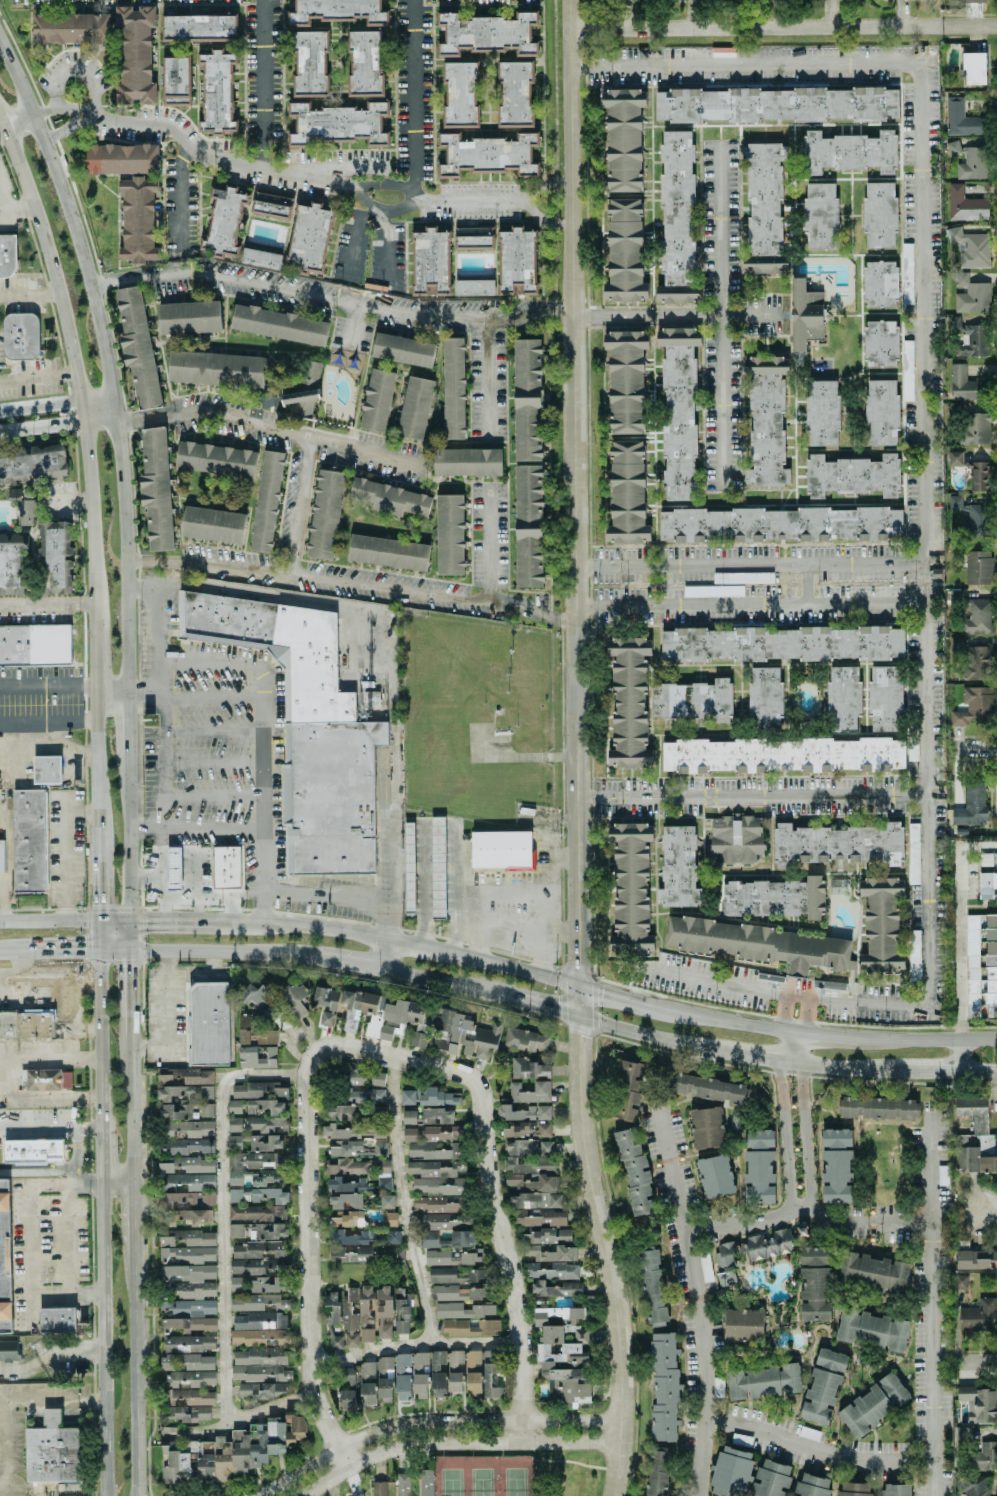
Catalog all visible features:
building: (971, 0)
building: (338, 11)
road: (831, 13)
building: (199, 27)
road: (783, 27)
building: (71, 28)
building: (135, 55)
building: (310, 63)
building: (365, 63)
road: (78, 68)
building: (974, 68)
building: (177, 81)
road: (261, 84)
building: (218, 93)
building: (461, 94)
building: (515, 94)
building: (775, 104)
road: (59, 108)
road: (89, 117)
building: (961, 119)
road: (16, 121)
building: (340, 123)
road: (1, 127)
road: (64, 128)
building: (623, 138)
building: (848, 151)
road: (414, 154)
building: (97, 158)
building: (129, 158)
building: (967, 160)
road: (249, 166)
road: (183, 199)
building: (763, 199)
road: (529, 202)
building: (964, 204)
road: (1, 205)
building: (271, 206)
road: (15, 209)
road: (382, 211)
building: (820, 215)
building: (879, 215)
building: (138, 220)
building: (676, 221)
building: (225, 224)
building: (308, 238)
road: (355, 238)
building: (474, 238)
building: (970, 247)
road: (387, 248)
building: (624, 252)
building: (7, 255)
building: (261, 258)
building: (518, 262)
building: (432, 263)
building: (764, 264)
building: (907, 273)
road: (143, 276)
building: (880, 283)
building: (474, 287)
road: (277, 288)
road: (29, 295)
building: (970, 295)
road: (928, 308)
road: (725, 313)
building: (804, 313)
road: (681, 314)
road: (417, 316)
road: (528, 316)
building: (189, 317)
building: (279, 325)
road: (350, 326)
building: (20, 336)
building: (966, 337)
building: (880, 343)
building: (137, 345)
building: (403, 350)
road: (104, 358)
road: (71, 366)
building: (216, 369)
building: (906, 370)
road: (36, 377)
building: (626, 381)
road: (484, 382)
building: (966, 385)
building: (453, 388)
building: (377, 400)
building: (527, 400)
building: (301, 402)
road: (39, 403)
building: (415, 407)
building: (678, 408)
building: (881, 412)
building: (822, 413)
road: (99, 422)
building: (766, 422)
road: (42, 428)
building: (973, 428)
road: (270, 429)
building: (954, 458)
building: (216, 459)
building: (467, 462)
building: (32, 463)
building: (853, 475)
building: (978, 475)
road: (450, 483)
building: (156, 488)
building: (14, 494)
building: (627, 494)
building: (391, 498)
building: (267, 501)
road: (71, 502)
building: (954, 502)
road: (295, 507)
building: (27, 512)
building: (325, 514)
building: (976, 519)
building: (780, 524)
building: (213, 525)
building: (528, 525)
building: (450, 534)
road: (485, 543)
building: (388, 552)
building: (56, 556)
building: (11, 563)
building: (977, 567)
road: (843, 580)
road: (672, 584)
road: (352, 585)
road: (282, 599)
road: (46, 607)
building: (977, 616)
road: (929, 631)
building: (783, 643)
building: (35, 645)
road: (93, 653)
building: (977, 663)
road: (47, 686)
road: (109, 686)
road: (143, 686)
road: (265, 686)
road: (214, 698)
building: (885, 698)
building: (765, 699)
building: (843, 699)
building: (693, 700)
building: (629, 702)
building: (971, 707)
road: (47, 720)
road: (125, 723)
road: (214, 730)
building: (307, 730)
road: (56, 732)
road: (26, 742)
road: (974, 749)
road: (579, 750)
building: (781, 755)
road: (164, 764)
road: (72, 767)
road: (95, 767)
building: (47, 770)
road: (47, 774)
road: (754, 794)
building: (971, 806)
building: (995, 825)
road: (215, 827)
road: (387, 837)
building: (735, 838)
building: (30, 840)
road: (127, 840)
building: (837, 844)
building: (501, 849)
road: (64, 851)
road: (161, 852)
building: (913, 853)
building: (2, 856)
building: (226, 867)
building: (437, 867)
building: (172, 868)
building: (678, 868)
building: (987, 874)
road: (959, 875)
road: (547, 876)
road: (162, 880)
road: (424, 883)
road: (502, 883)
building: (630, 889)
road: (214, 896)
road: (345, 897)
building: (775, 898)
road: (95, 899)
road: (2, 902)
traffic signals: (96, 903)
road: (458, 903)
road: (230, 907)
traffic signals: (146, 920)
road: (161, 920)
road: (47, 921)
building: (881, 924)
road: (542, 933)
road: (405, 943)
building: (759, 944)
road: (78, 949)
traffic signals: (82, 949)
road: (14, 951)
road: (221, 951)
road: (385, 953)
building: (914, 955)
road: (347, 962)
traffic signals: (580, 962)
building: (991, 965)
building: (972, 966)
traffic signals: (129, 967)
road: (961, 973)
road: (129, 977)
road: (441, 982)
road: (719, 982)
road: (49, 990)
traffic signals: (602, 993)
building: (256, 997)
building: (326, 997)
road: (618, 997)
building: (297, 1001)
road: (867, 1002)
road: (539, 1008)
building: (351, 1009)
building: (270, 1012)
traffic signals: (555, 1012)
road: (166, 1014)
building: (390, 1015)
building: (326, 1018)
road: (717, 1018)
building: (27, 1024)
building: (208, 1024)
building: (398, 1028)
road: (98, 1031)
building: (254, 1033)
traffic signals: (580, 1034)
road: (642, 1034)
building: (468, 1035)
road: (830, 1035)
road: (292, 1039)
building: (418, 1039)
building: (525, 1040)
road: (940, 1041)
road: (373, 1052)
road: (753, 1054)
building: (257, 1057)
road: (952, 1057)
road: (49, 1058)
road: (846, 1066)
building: (530, 1069)
road: (923, 1071)
road: (974, 1072)
building: (186, 1077)
building: (356, 1077)
building: (377, 1079)
building: (46, 1080)
building: (709, 1088)
building: (257, 1090)
building: (628, 1091)
building: (530, 1092)
building: (368, 1095)
building: (407, 1097)
building: (438, 1097)
road: (779, 1098)
building: (180, 1100)
road: (802, 1100)
building: (234, 1106)
building: (266, 1106)
road: (130, 1108)
building: (876, 1108)
building: (206, 1110)
building: (344, 1112)
building: (378, 1112)
building: (523, 1112)
building: (427, 1116)
building: (255, 1123)
building: (706, 1127)
building: (189, 1128)
building: (526, 1130)
road: (50, 1131)
building: (409, 1134)
building: (442, 1134)
building: (974, 1136)
building: (257, 1142)
road: (101, 1146)
building: (188, 1146)
building: (520, 1147)
building: (546, 1147)
building: (34, 1151)
road: (76, 1158)
building: (255, 1159)
building: (455, 1159)
building: (187, 1165)
building: (528, 1165)
building: (836, 1165)
building: (348, 1166)
building: (759, 1166)
road: (36, 1171)
building: (635, 1171)
building: (383, 1174)
building: (715, 1176)
building: (235, 1177)
building: (267, 1177)
road: (116, 1179)
building: (190, 1181)
building: (345, 1184)
building: (437, 1186)
building: (238, 1195)
building: (271, 1195)
building: (186, 1200)
building: (535, 1200)
building: (345, 1201)
building: (386, 1201)
road: (405, 1201)
building: (437, 1203)
road: (805, 1203)
road: (989, 1205)
road: (224, 1206)
building: (256, 1212)
building: (188, 1216)
road: (28, 1217)
road: (132, 1218)
building: (539, 1218)
building: (348, 1219)
building: (389, 1219)
building: (441, 1221)
building: (257, 1231)
building: (352, 1237)
building: (392, 1237)
building: (445, 1240)
building: (530, 1244)
building: (166, 1246)
building: (256, 1249)
road: (505, 1250)
building: (749, 1251)
building: (352, 1252)
road: (67, 1253)
building: (395, 1254)
building: (815, 1255)
building: (452, 1257)
building: (5, 1258)
building: (975, 1258)
building: (236, 1265)
building: (705, 1267)
building: (255, 1268)
building: (553, 1270)
building: (872, 1272)
building: (454, 1275)
road: (309, 1279)
building: (190, 1280)
building: (960, 1281)
building: (235, 1284)
building: (266, 1284)
building: (652, 1286)
building: (556, 1289)
building: (454, 1293)
building: (815, 1294)
road: (702, 1300)
building: (332, 1306)
road: (930, 1306)
building: (190, 1307)
building: (256, 1310)
building: (463, 1310)
building: (384, 1312)
building: (402, 1312)
building: (978, 1315)
building: (357, 1316)
building: (58, 1319)
building: (281, 1320)
building: (189, 1324)
building: (743, 1325)
building: (470, 1327)
building: (872, 1330)
building: (256, 1336)
road: (102, 1337)
building: (335, 1342)
building: (189, 1343)
road: (415, 1345)
building: (9, 1350)
building: (562, 1355)
road: (49, 1356)
building: (260, 1356)
building: (455, 1360)
building: (187, 1361)
building: (472, 1361)
road: (978, 1362)
building: (438, 1373)
road: (133, 1375)
building: (420, 1376)
building: (402, 1377)
building: (189, 1378)
building: (384, 1378)
building: (259, 1380)
building: (455, 1381)
building: (496, 1381)
building: (763, 1381)
building: (367, 1382)
building: (473, 1384)
building: (823, 1386)
building: (664, 1388)
building: (347, 1389)
building: (188, 1398)
road: (14, 1402)
building: (979, 1403)
building: (873, 1405)
building: (192, 1413)
road: (240, 1419)
road: (434, 1425)
building: (962, 1433)
road: (461, 1446)
building: (51, 1450)
building: (231, 1451)
road: (816, 1452)
building: (983, 1456)
building: (657, 1471)
building: (731, 1472)
building: (770, 1478)
building: (426, 1482)
park: (482, 1483)
building: (402, 1484)
park: (451, 1484)
park: (515, 1484)
building: (812, 1486)
building: (974, 1486)
building: (854, 1489)
building: (896, 1490)
building: (356, 1495)

